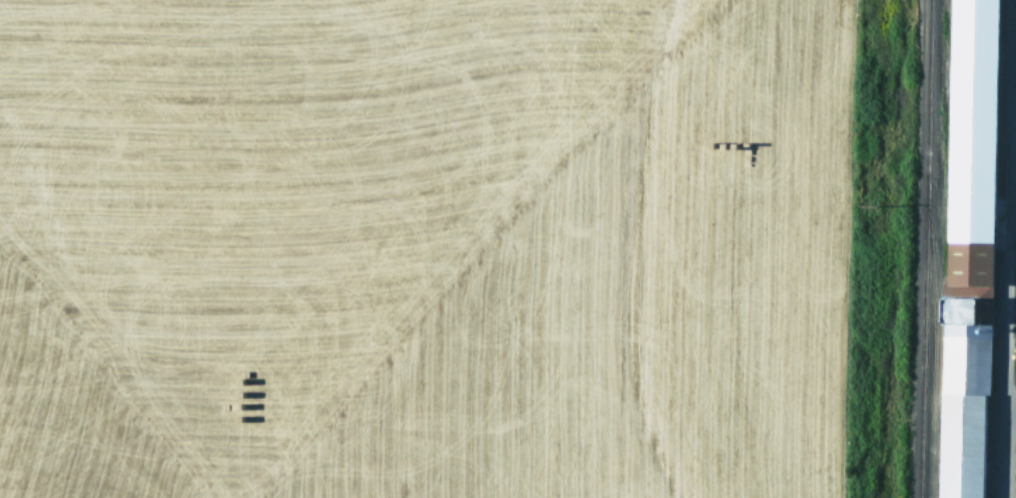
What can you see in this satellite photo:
crop: (445, 248)
railway: (925, 248)
crop: (984, 257)
railway: (929, 340)
building: (967, 369)

